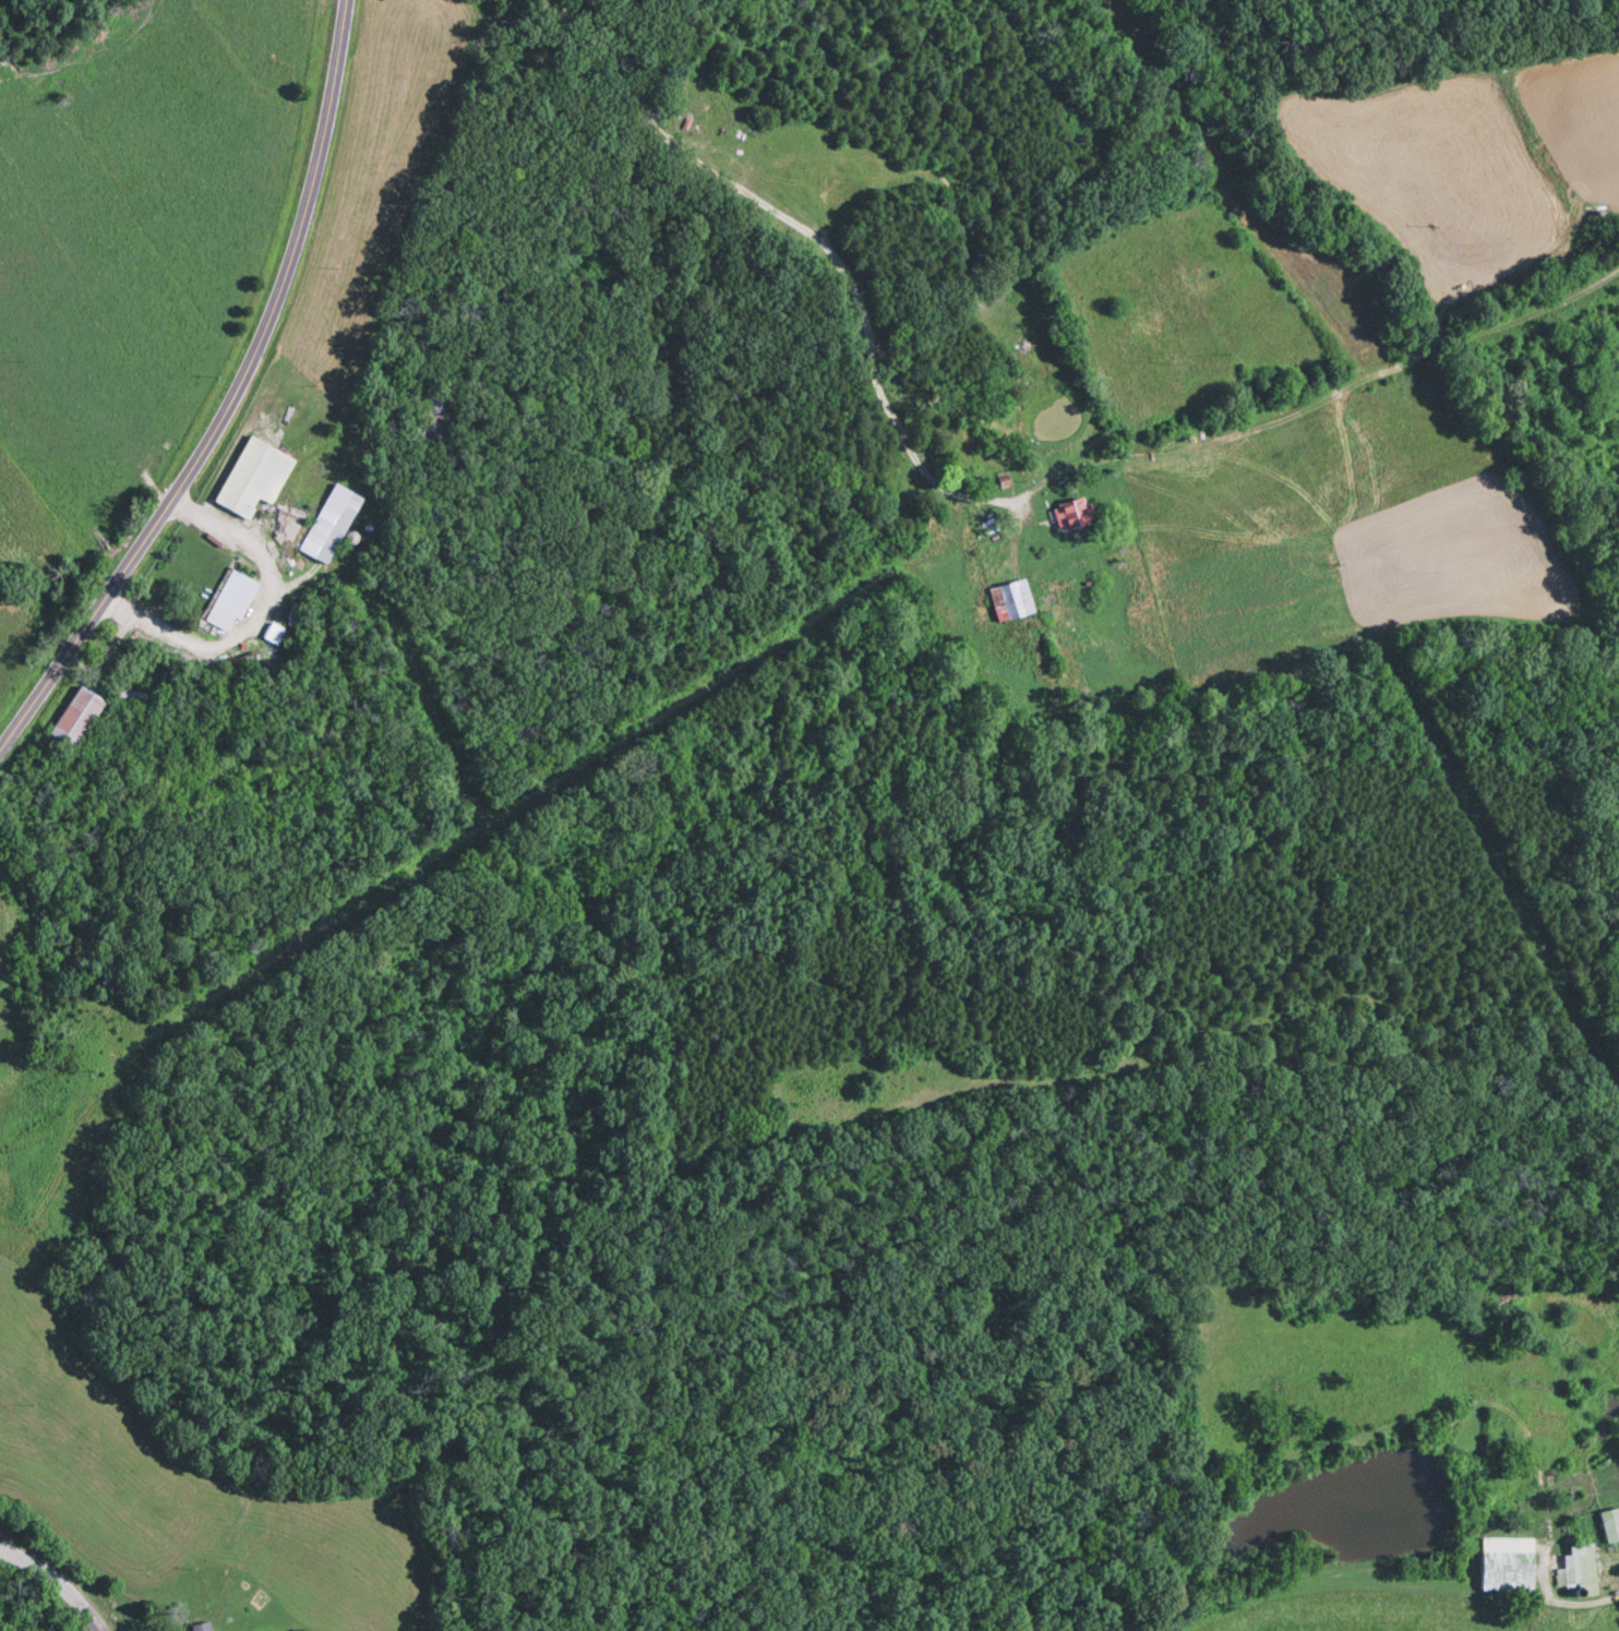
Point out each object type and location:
road: (812, 240)
road: (230, 396)
building: (434, 417)
building: (255, 479)
building: (1075, 516)
building: (287, 525)
building: (333, 526)
building: (1015, 601)
building: (231, 602)
building: (79, 719)
building: (1610, 1526)
building: (1583, 1562)
road: (63, 1570)
building: (1486, 1573)
road: (1559, 1606)
building: (204, 1628)

